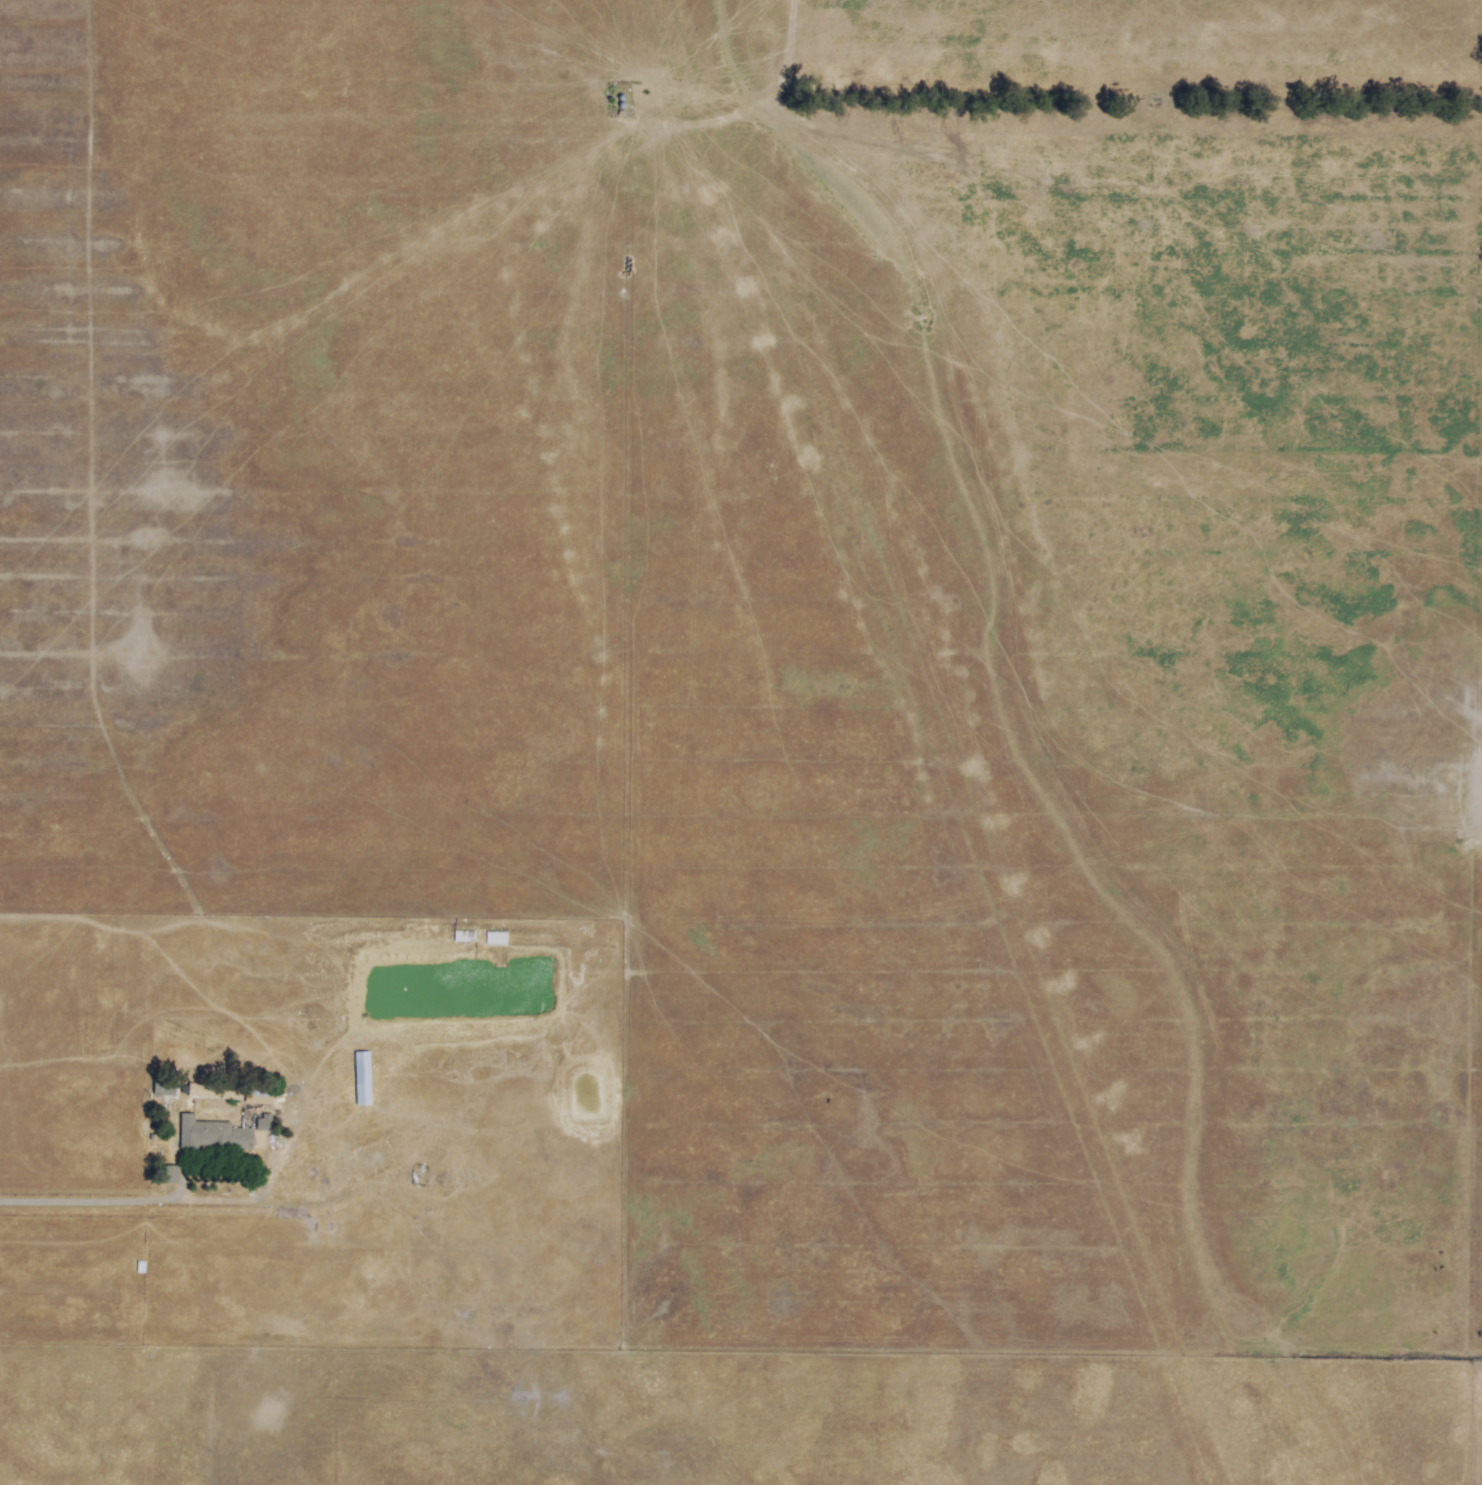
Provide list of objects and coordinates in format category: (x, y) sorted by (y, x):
building: (361, 1077)
building: (262, 1122)
building: (211, 1134)
road: (203, 1204)

